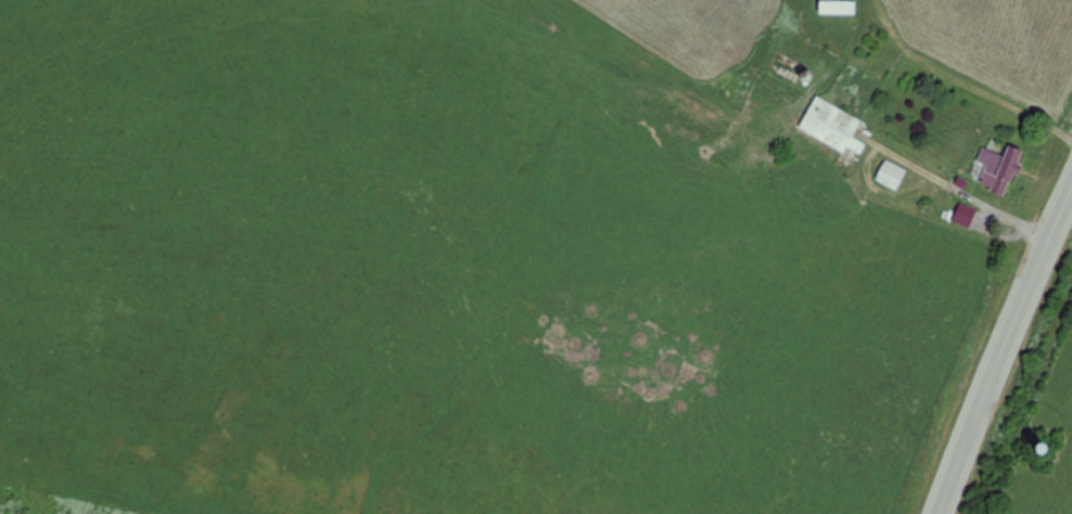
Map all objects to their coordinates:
building: (837, 7)
building: (831, 126)
building: (998, 168)
building: (891, 175)
building: (965, 215)
road: (1001, 349)
building: (1041, 445)
silo: (1041, 445)

